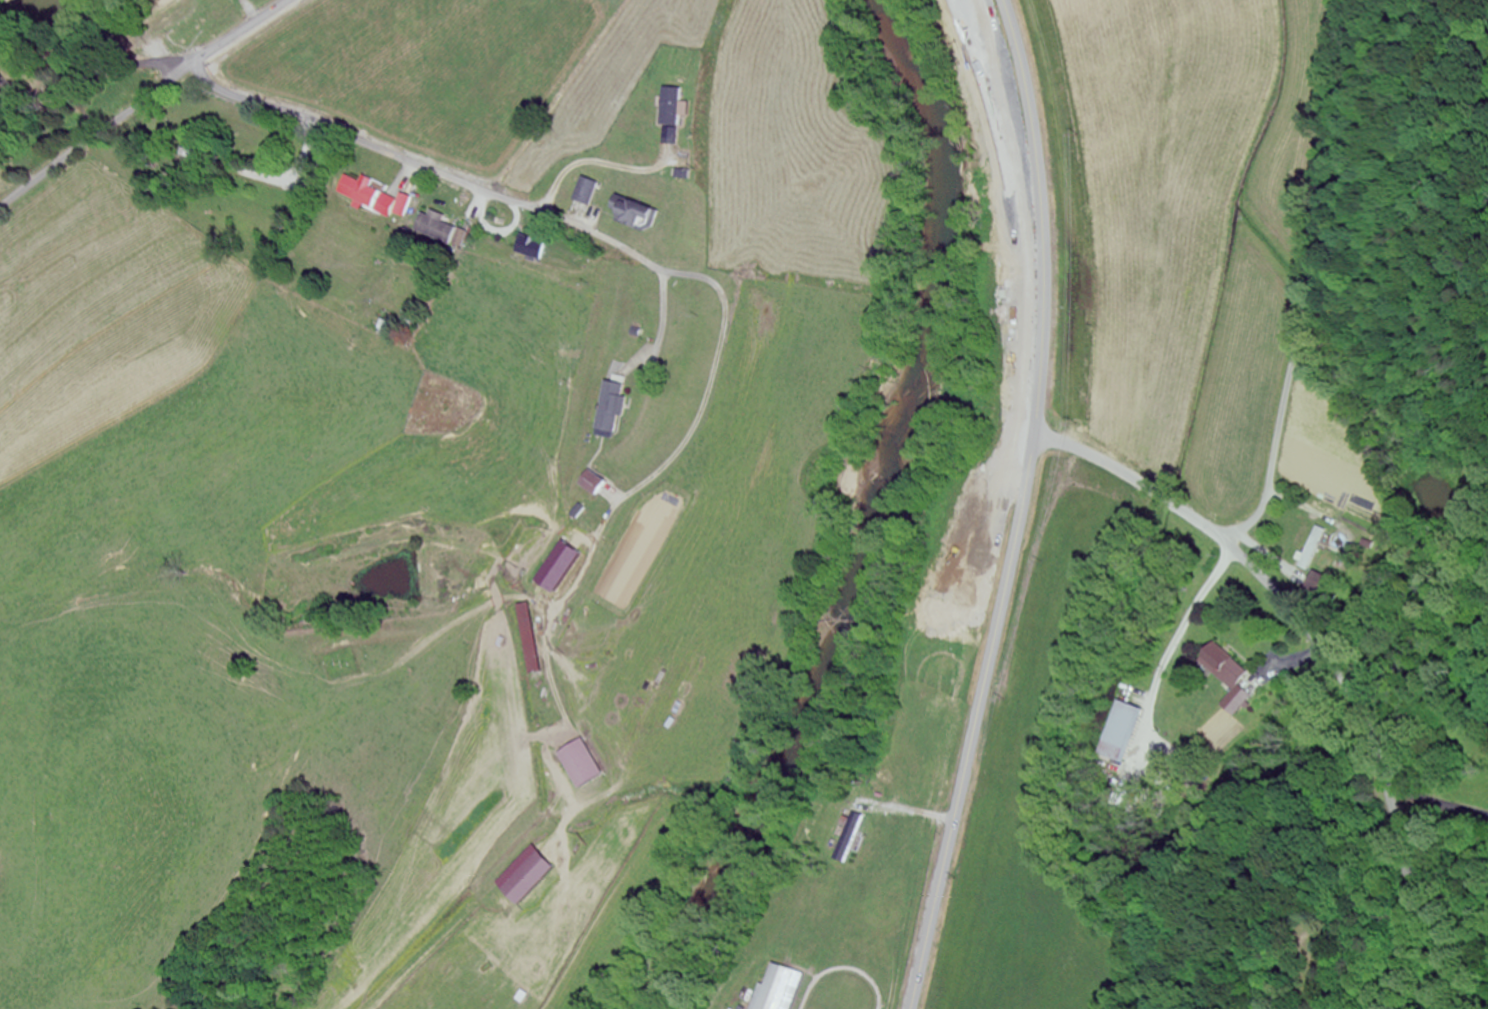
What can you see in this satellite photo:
river: (69, 4)
road: (142, 101)
building: (670, 107)
road: (366, 146)
building: (584, 192)
building: (373, 197)
building: (628, 212)
building: (442, 231)
building: (666, 240)
road: (1300, 281)
building: (613, 408)
road: (1134, 481)
road: (1021, 507)
river: (861, 519)
building: (1312, 548)
building: (559, 573)
building: (527, 639)
road: (1318, 647)
park: (343, 662)
building: (1223, 672)
building: (1116, 732)
building: (581, 765)
road: (1395, 830)
building: (847, 838)
building: (526, 880)
building: (775, 988)

